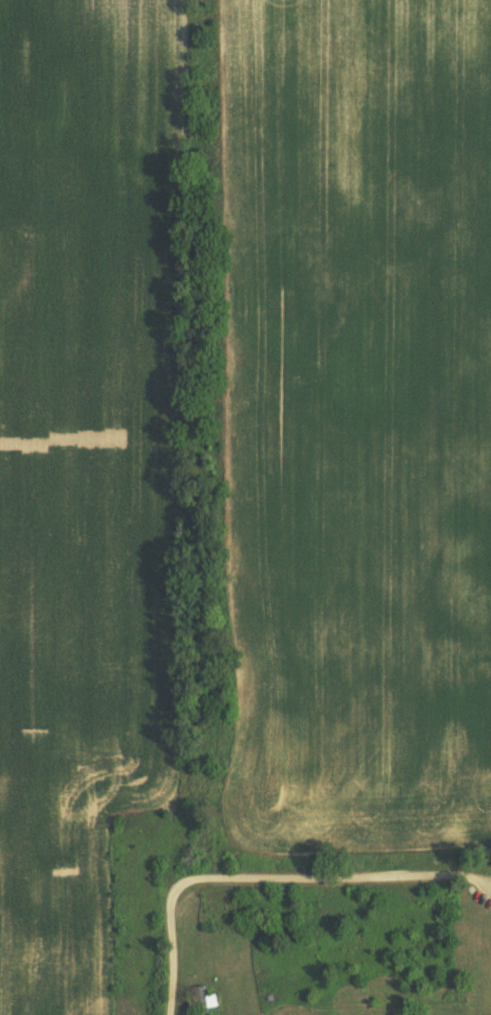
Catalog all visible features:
road: (271, 876)
building: (202, 1000)

